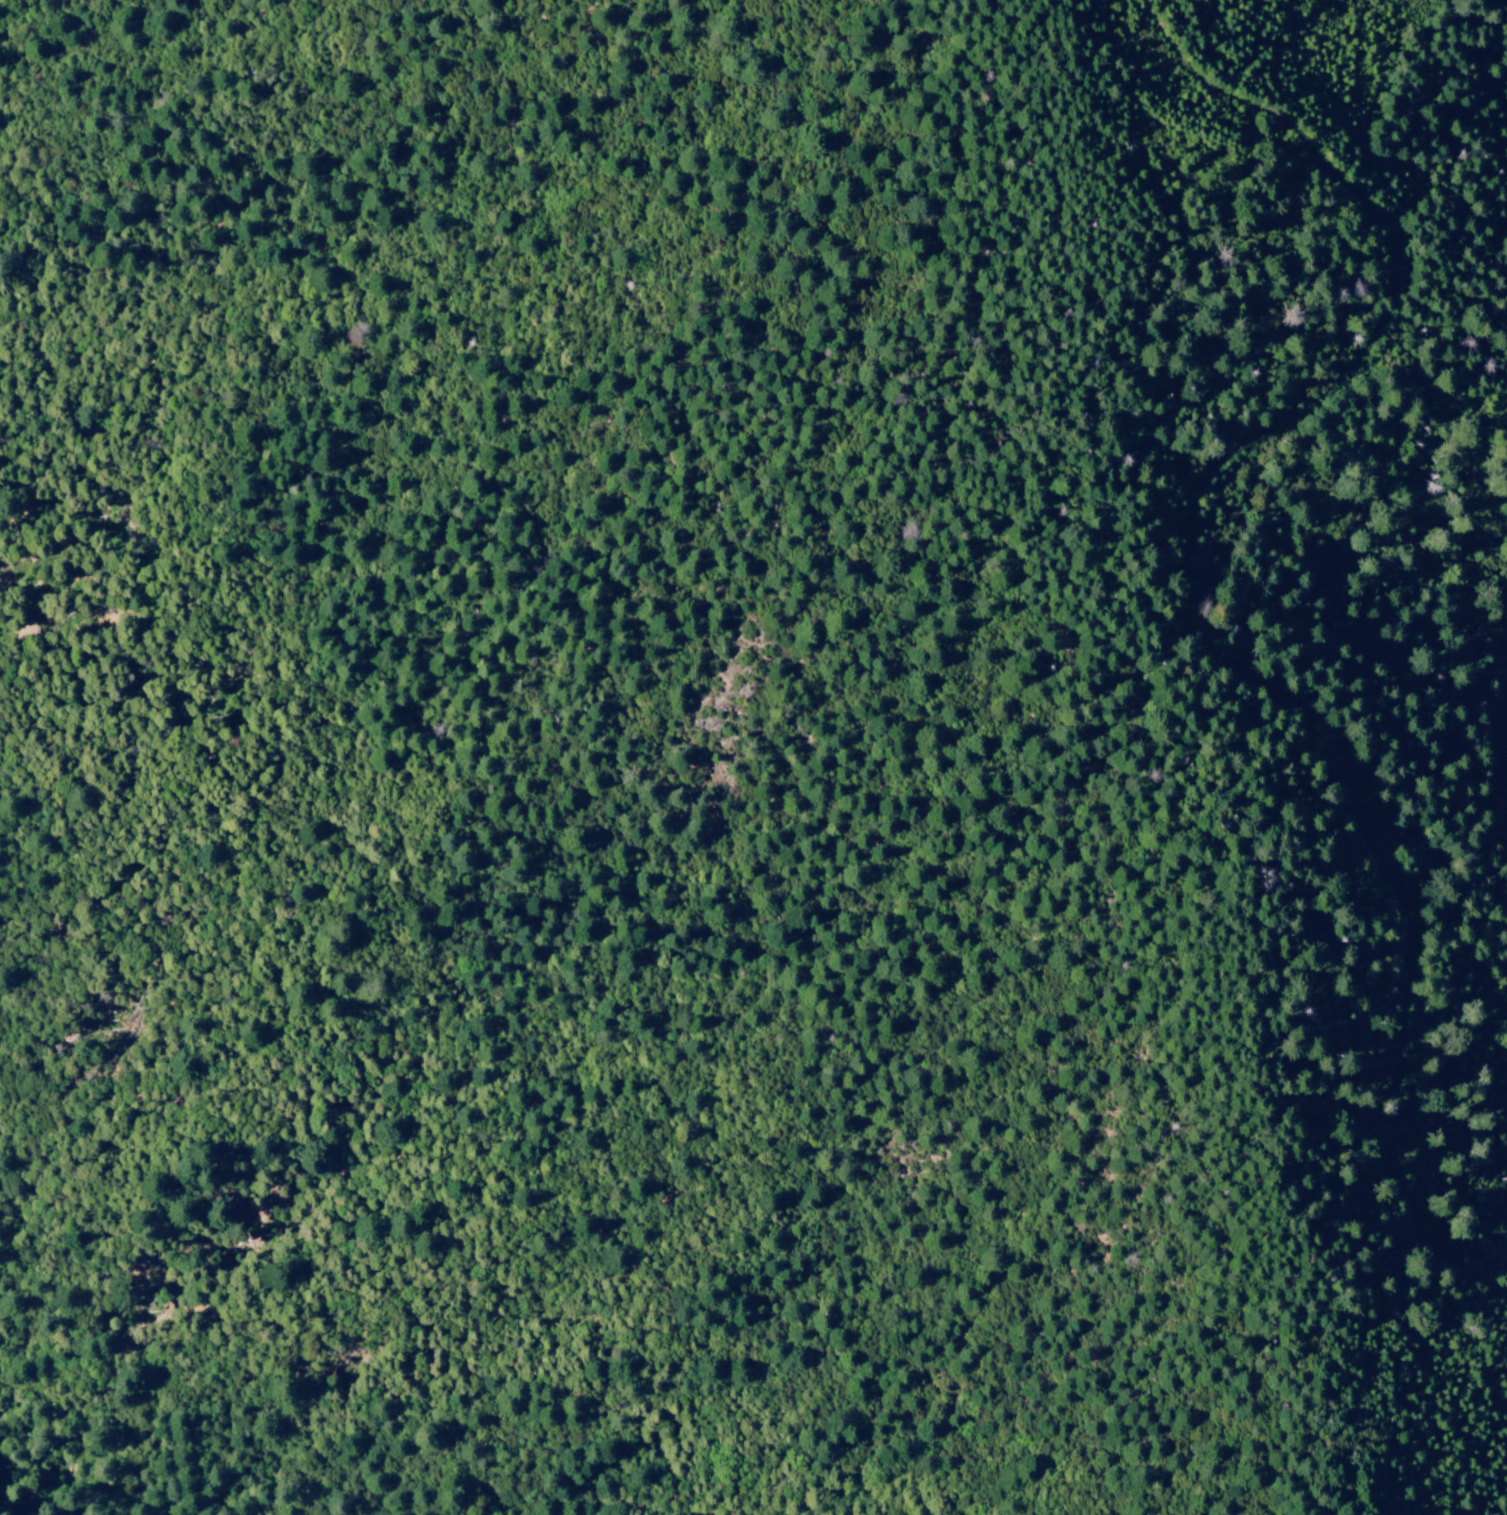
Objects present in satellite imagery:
road: (1184, 614)

